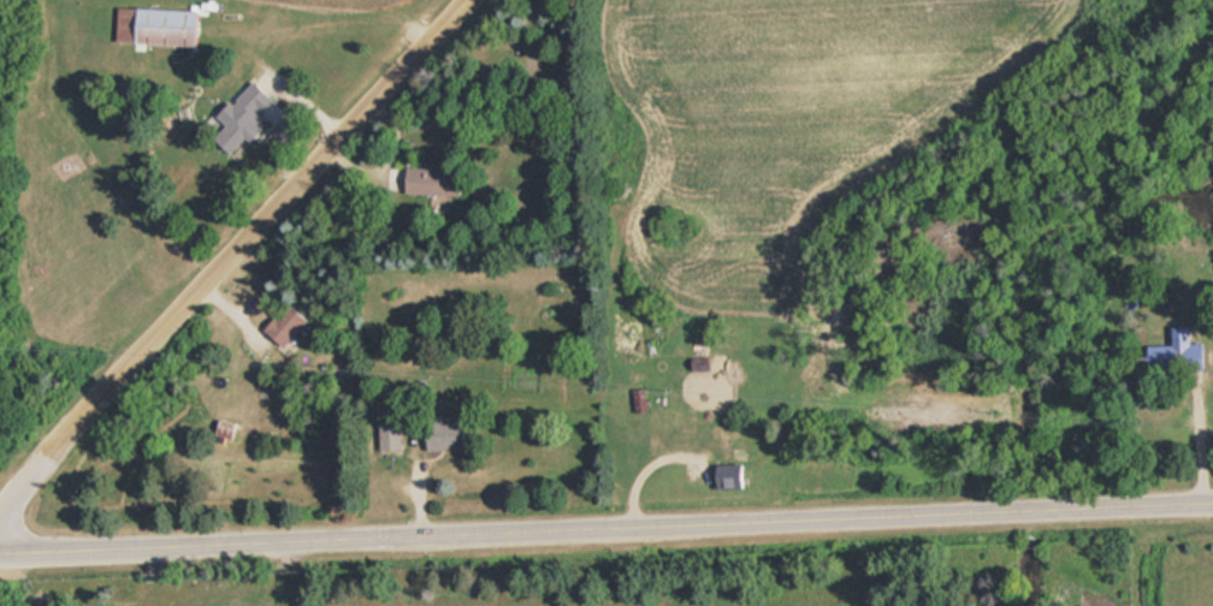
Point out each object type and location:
building: (152, 25)
building: (239, 119)
building: (413, 178)
road: (254, 221)
building: (279, 325)
building: (1174, 352)
building: (635, 400)
building: (220, 429)
building: (385, 432)
building: (437, 433)
road: (24, 474)
building: (724, 474)
road: (605, 519)

